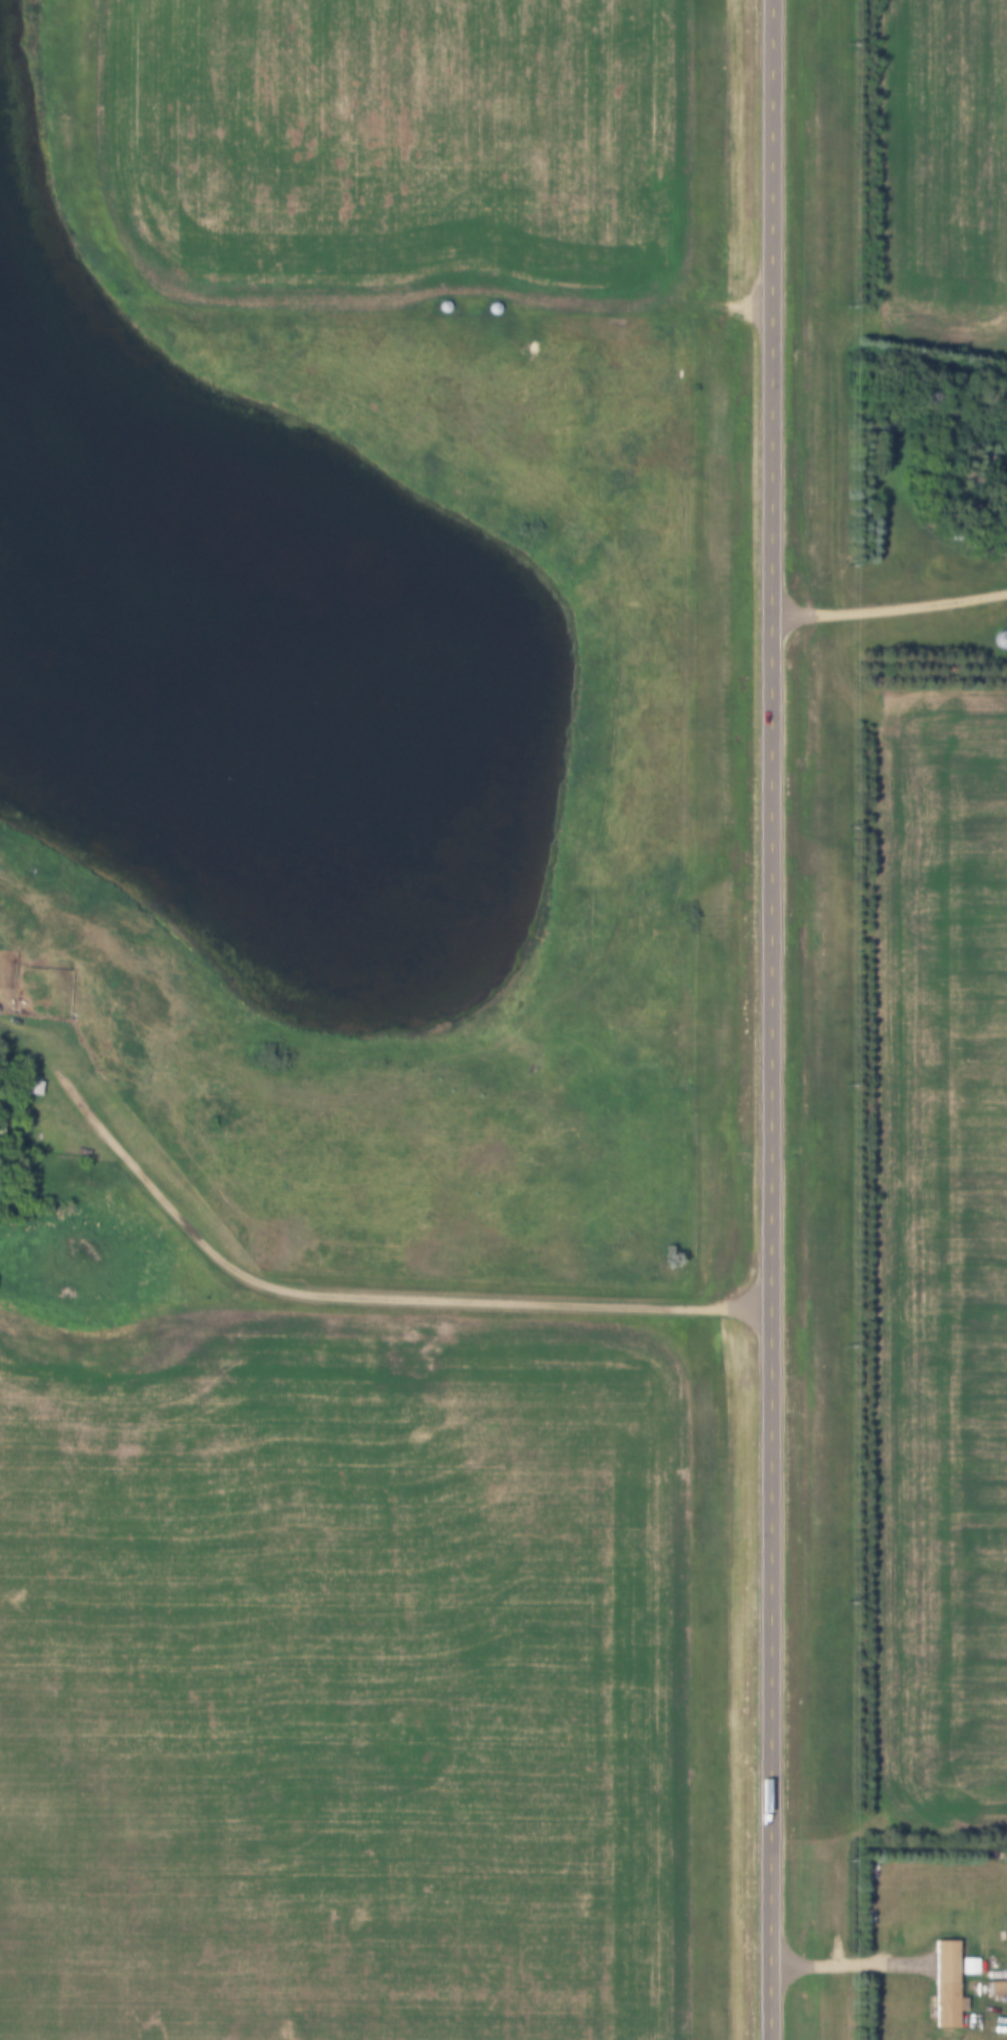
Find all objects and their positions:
road: (887, 608)
building: (1002, 640)
road: (768, 1019)
building: (34, 1089)
road: (327, 1293)
building: (423, 1339)
building: (947, 1985)
building: (997, 1989)

